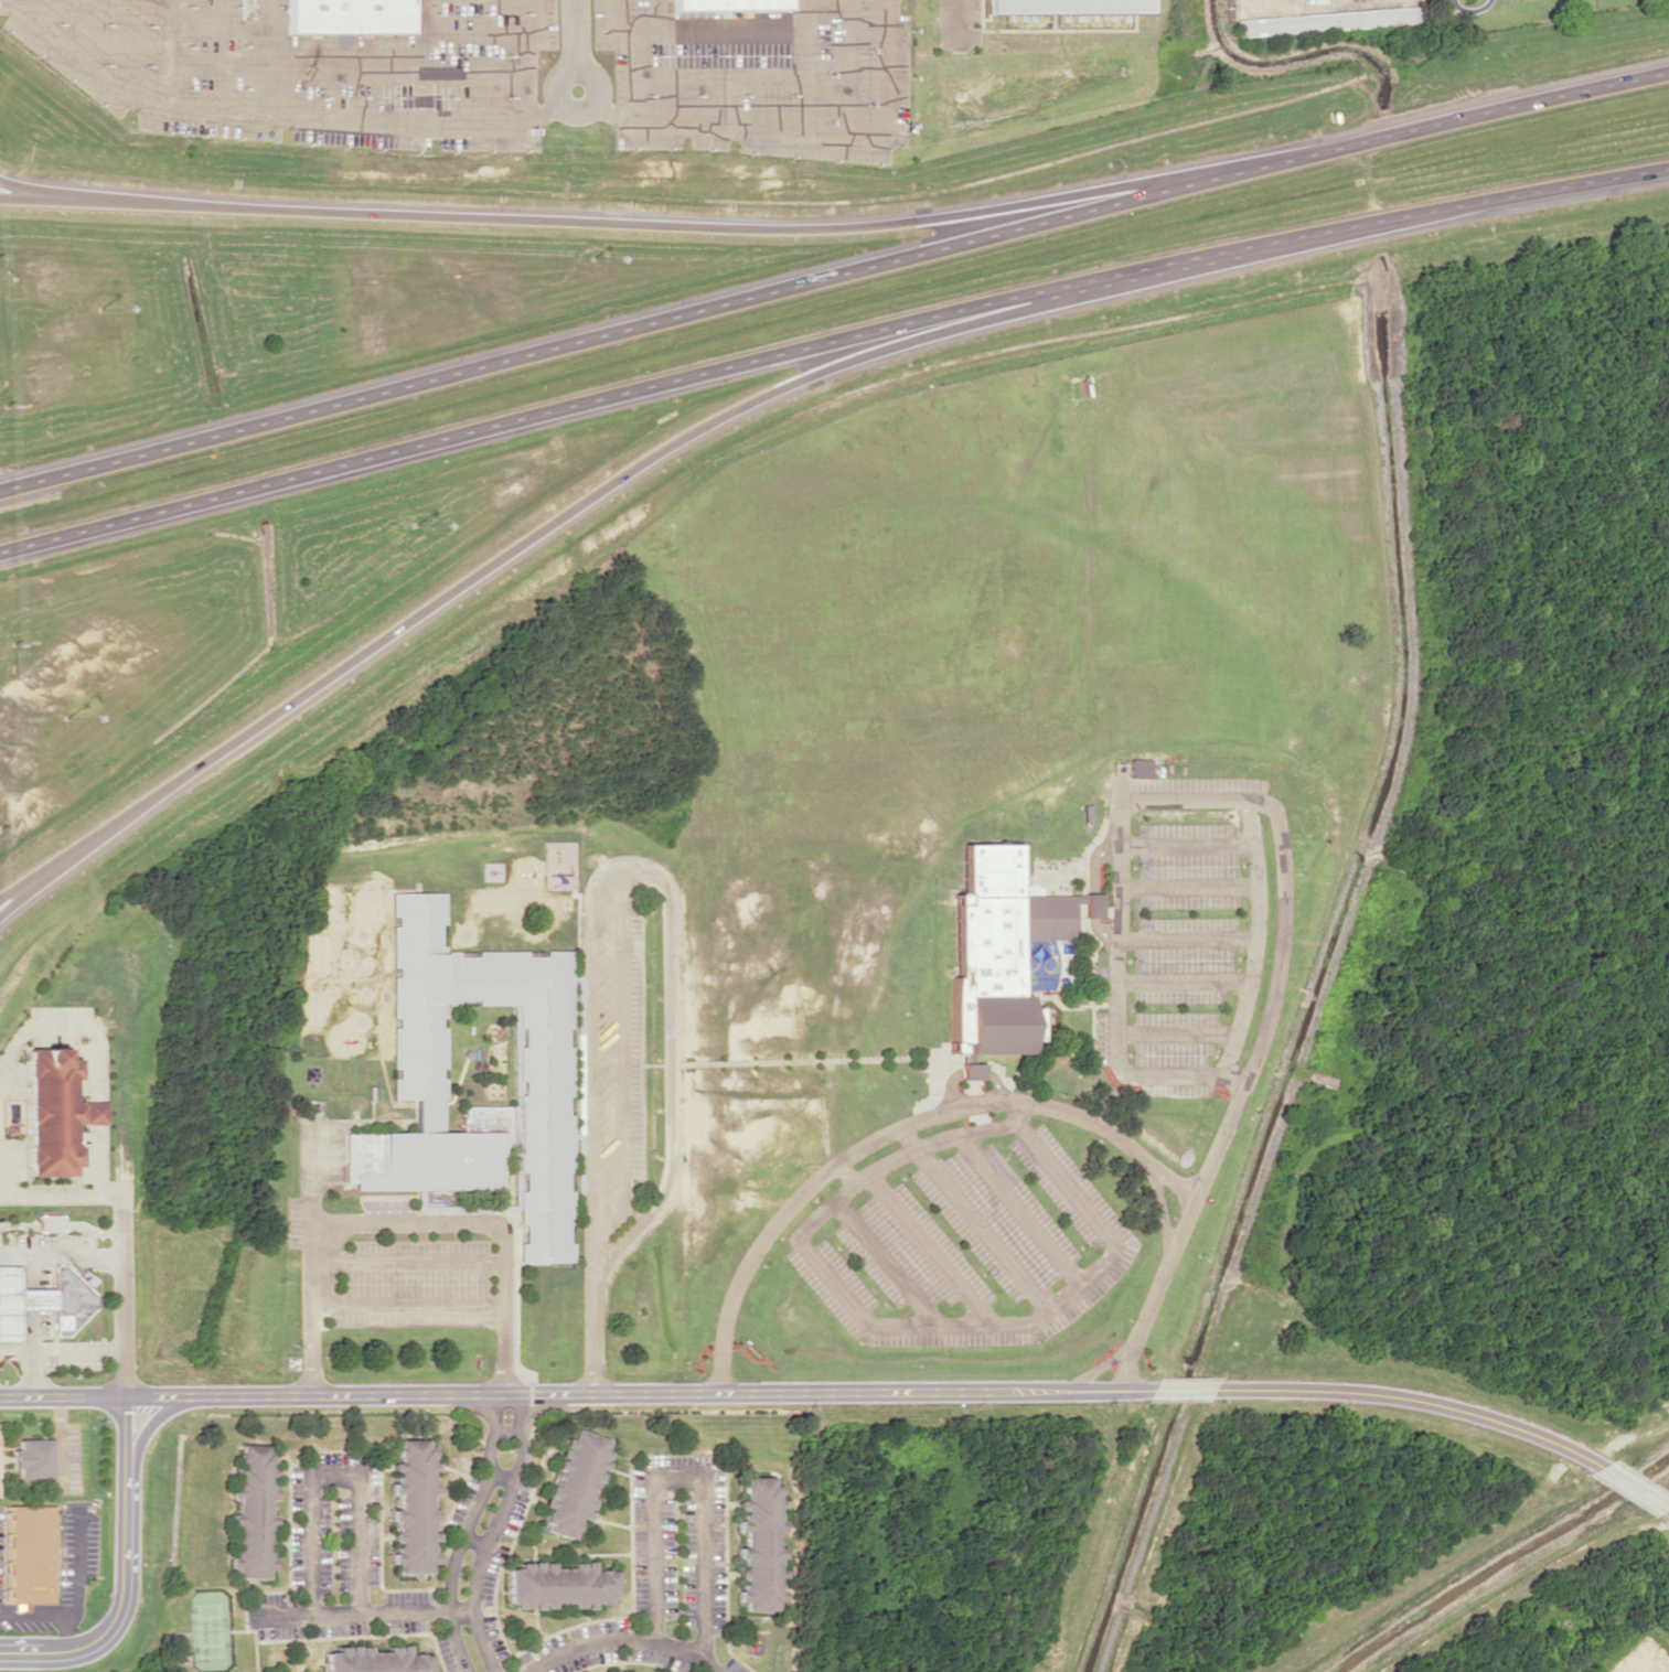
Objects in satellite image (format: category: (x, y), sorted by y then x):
building: (729, 4)
building: (1064, 6)
building: (347, 14)
road: (657, 15)
building: (1330, 20)
road: (959, 24)
road: (215, 26)
road: (692, 31)
road: (496, 34)
road: (426, 37)
road: (110, 44)
road: (575, 45)
road: (167, 51)
road: (265, 55)
road: (804, 65)
road: (215, 66)
parking lot: (489, 72)
road: (634, 76)
road: (393, 77)
road: (522, 78)
road: (200, 105)
road: (605, 106)
road: (828, 132)
road: (29, 192)
road: (619, 224)
road: (833, 272)
road: (830, 339)
road: (542, 528)
road: (642, 860)
road: (25, 887)
building: (1001, 947)
road: (620, 1054)
building: (970, 1071)
building: (544, 1084)
building: (54, 1112)
road: (67, 1190)
building: (47, 1222)
road: (60, 1258)
building: (42, 1300)
road: (120, 1300)
road: (592, 1338)
road: (13, 1347)
road: (74, 1347)
road: (26, 1371)
road: (1184, 1389)
road: (576, 1394)
road: (1412, 1400)
road: (147, 1422)
building: (30, 1457)
road: (329, 1476)
road: (678, 1476)
building: (573, 1481)
road: (1633, 1489)
building: (413, 1505)
road: (1668, 1511)
building: (252, 1512)
road: (470, 1533)
building: (756, 1544)
road: (125, 1569)
building: (557, 1585)
road: (352, 1615)
park: (202, 1630)
road: (619, 1641)
road: (8, 1649)
building: (374, 1660)
building: (297, 1671)

